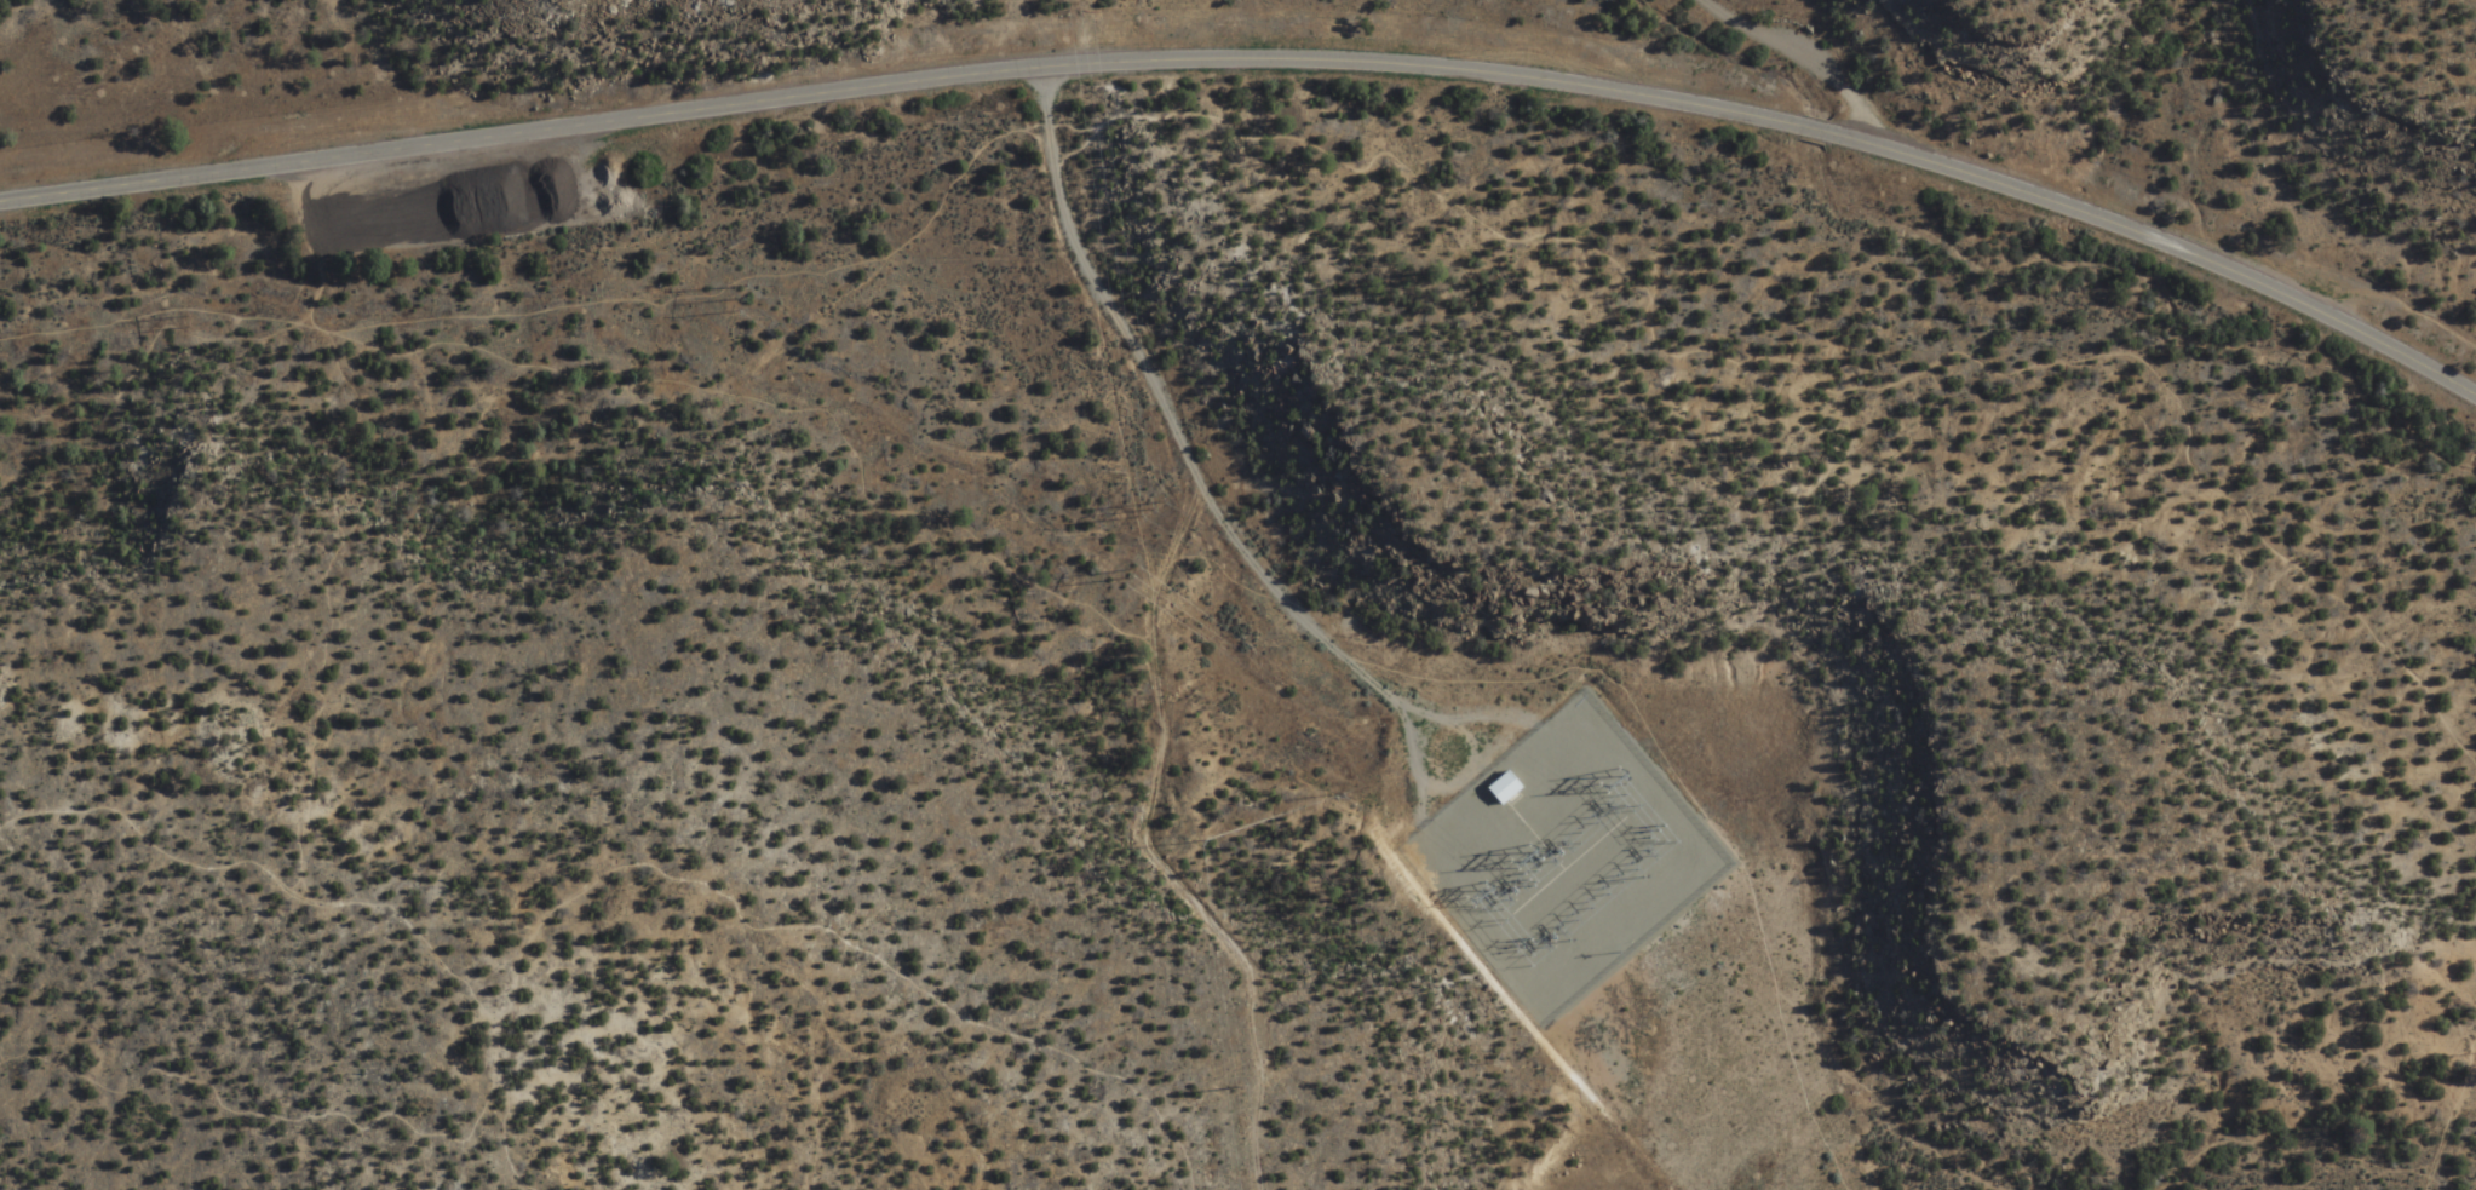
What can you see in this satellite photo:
road: (1794, 53)
road: (1264, 59)
road: (1360, 169)
parking lot: (431, 203)
road: (320, 286)
road: (780, 401)
road: (1189, 459)
road: (338, 610)
road: (1160, 754)
building: (1499, 786)
road: (1693, 799)
power substation: (1556, 855)
road: (588, 886)
road: (496, 1035)
road: (287, 1108)
road: (2454, 1140)
road: (504, 1152)

